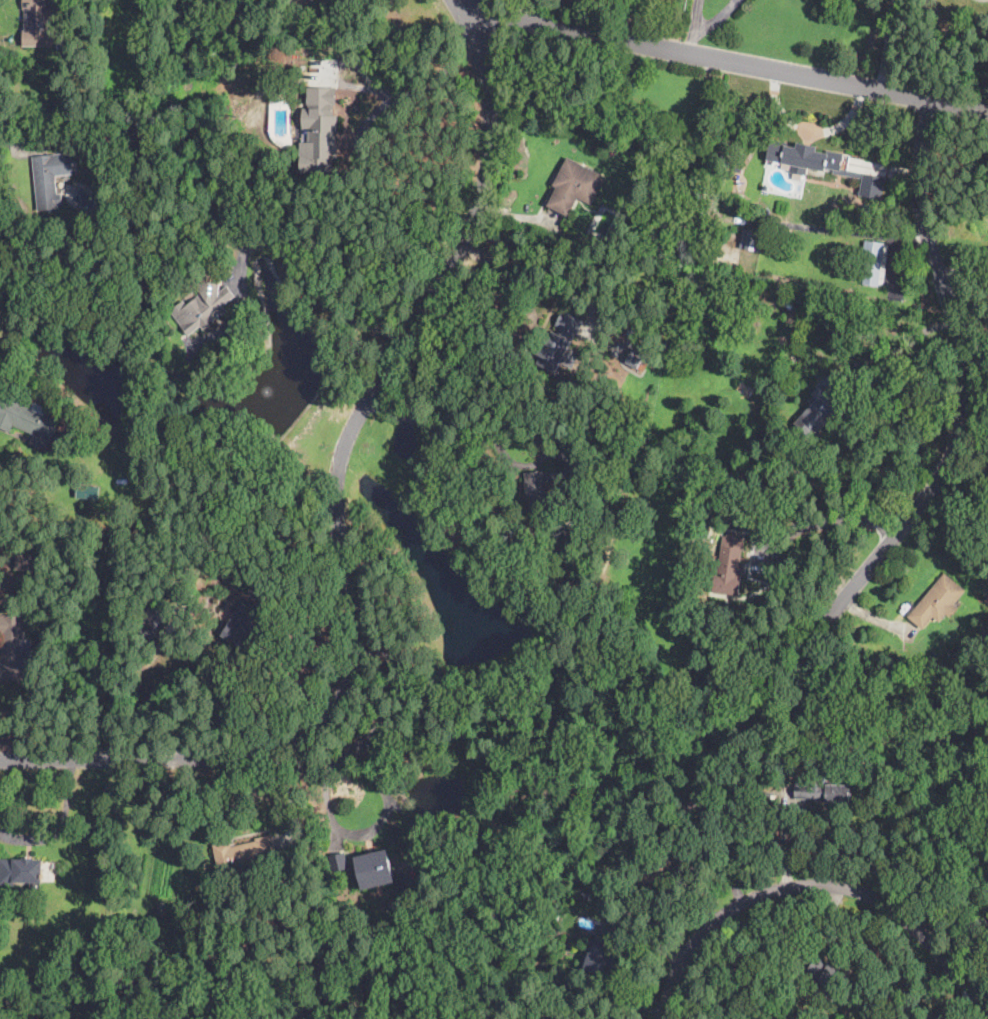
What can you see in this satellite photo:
building: (302, 3)
road: (477, 7)
road: (522, 9)
road: (695, 16)
road: (716, 19)
road: (640, 22)
building: (39, 23)
road: (690, 44)
road: (886, 45)
road: (739, 64)
building: (73, 130)
road: (359, 136)
building: (319, 142)
road: (14, 144)
building: (614, 146)
building: (803, 156)
building: (678, 176)
building: (51, 178)
building: (576, 184)
building: (872, 186)
building: (782, 210)
building: (689, 218)
building: (751, 240)
road: (293, 259)
building: (870, 262)
road: (511, 272)
building: (203, 307)
building: (717, 315)
road: (904, 336)
building: (555, 349)
building: (634, 358)
road: (971, 378)
building: (822, 407)
building: (28, 421)
road: (445, 421)
building: (80, 449)
building: (142, 473)
building: (121, 487)
building: (88, 491)
building: (536, 491)
building: (578, 496)
building: (708, 512)
road: (830, 518)
road: (339, 519)
building: (773, 555)
building: (585, 557)
building: (30, 562)
building: (277, 565)
building: (729, 566)
building: (987, 598)
building: (973, 599)
building: (936, 602)
building: (153, 623)
building: (245, 623)
building: (13, 648)
road: (263, 667)
road: (373, 726)
building: (823, 793)
building: (763, 795)
building: (244, 853)
building: (662, 866)
building: (376, 869)
building: (21, 871)
road: (815, 890)
building: (164, 912)
building: (156, 946)
building: (602, 952)
road: (623, 963)
building: (825, 974)

